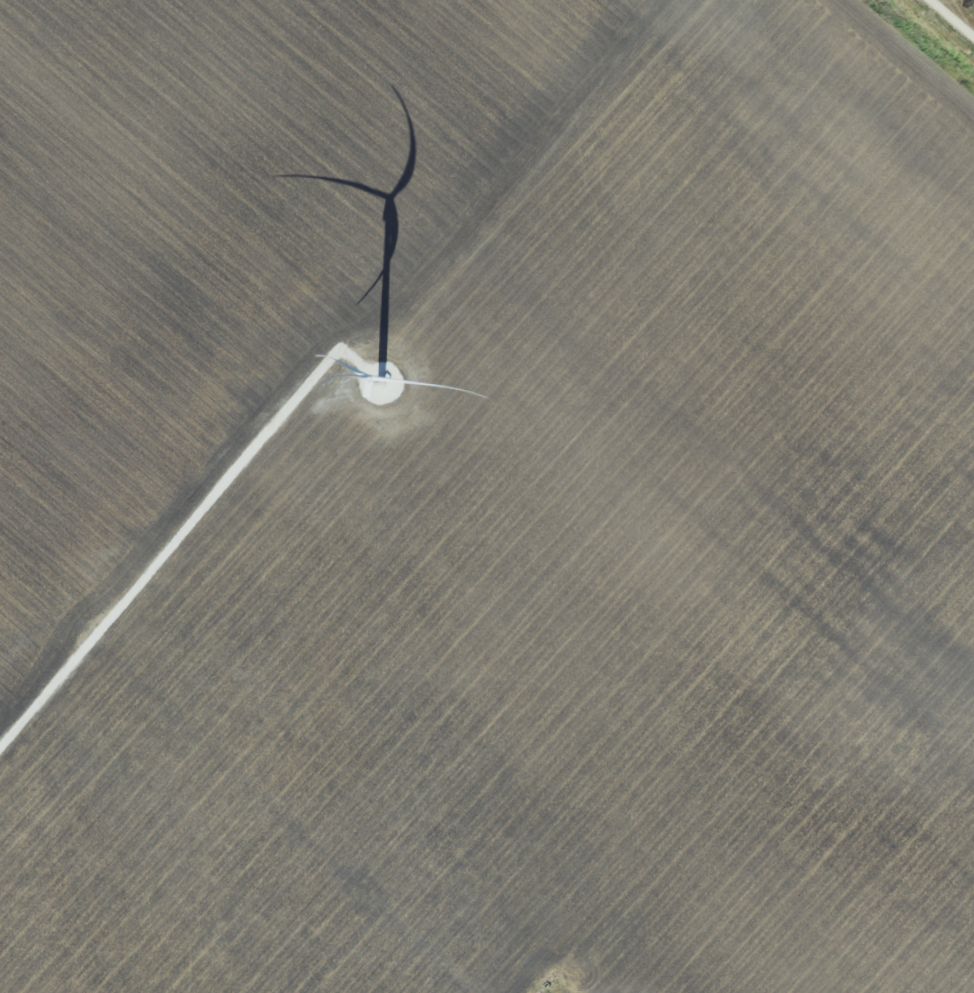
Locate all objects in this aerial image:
wind turbine: (375, 386)

